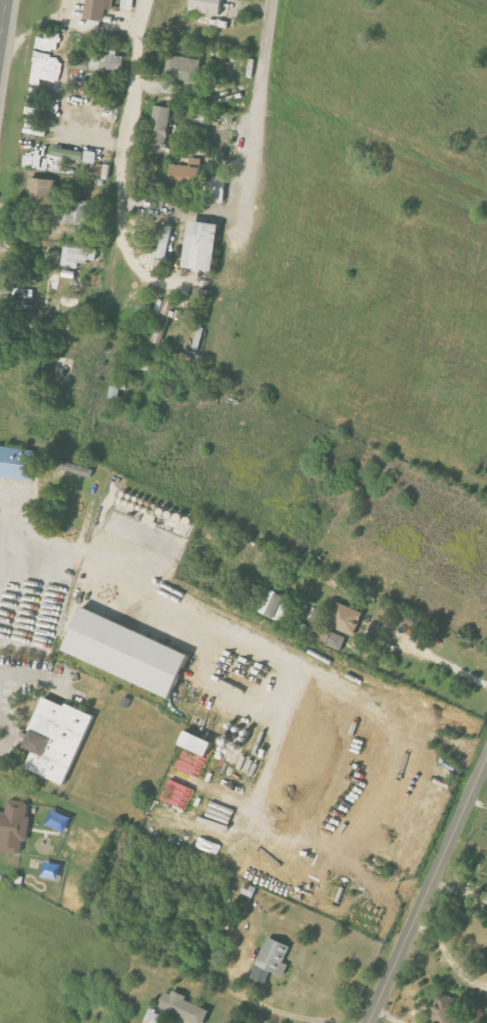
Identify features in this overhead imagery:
building: (220, 0)
building: (127, 4)
building: (206, 6)
building: (95, 10)
road: (4, 31)
building: (107, 62)
building: (80, 65)
building: (180, 72)
building: (161, 125)
road: (252, 138)
road: (97, 141)
building: (74, 154)
building: (186, 173)
road: (122, 187)
building: (40, 191)
road: (180, 210)
building: (80, 212)
building: (164, 242)
building: (202, 246)
building: (78, 255)
building: (163, 321)
building: (16, 463)
road: (42, 604)
building: (276, 604)
building: (346, 619)
building: (337, 641)
road: (419, 645)
road: (252, 648)
building: (127, 651)
building: (57, 739)
building: (194, 753)
building: (178, 794)
building: (14, 826)
road: (428, 891)
road: (449, 957)
building: (183, 1007)
building: (445, 1009)
road: (268, 1011)
building: (153, 1017)
road: (387, 1017)

